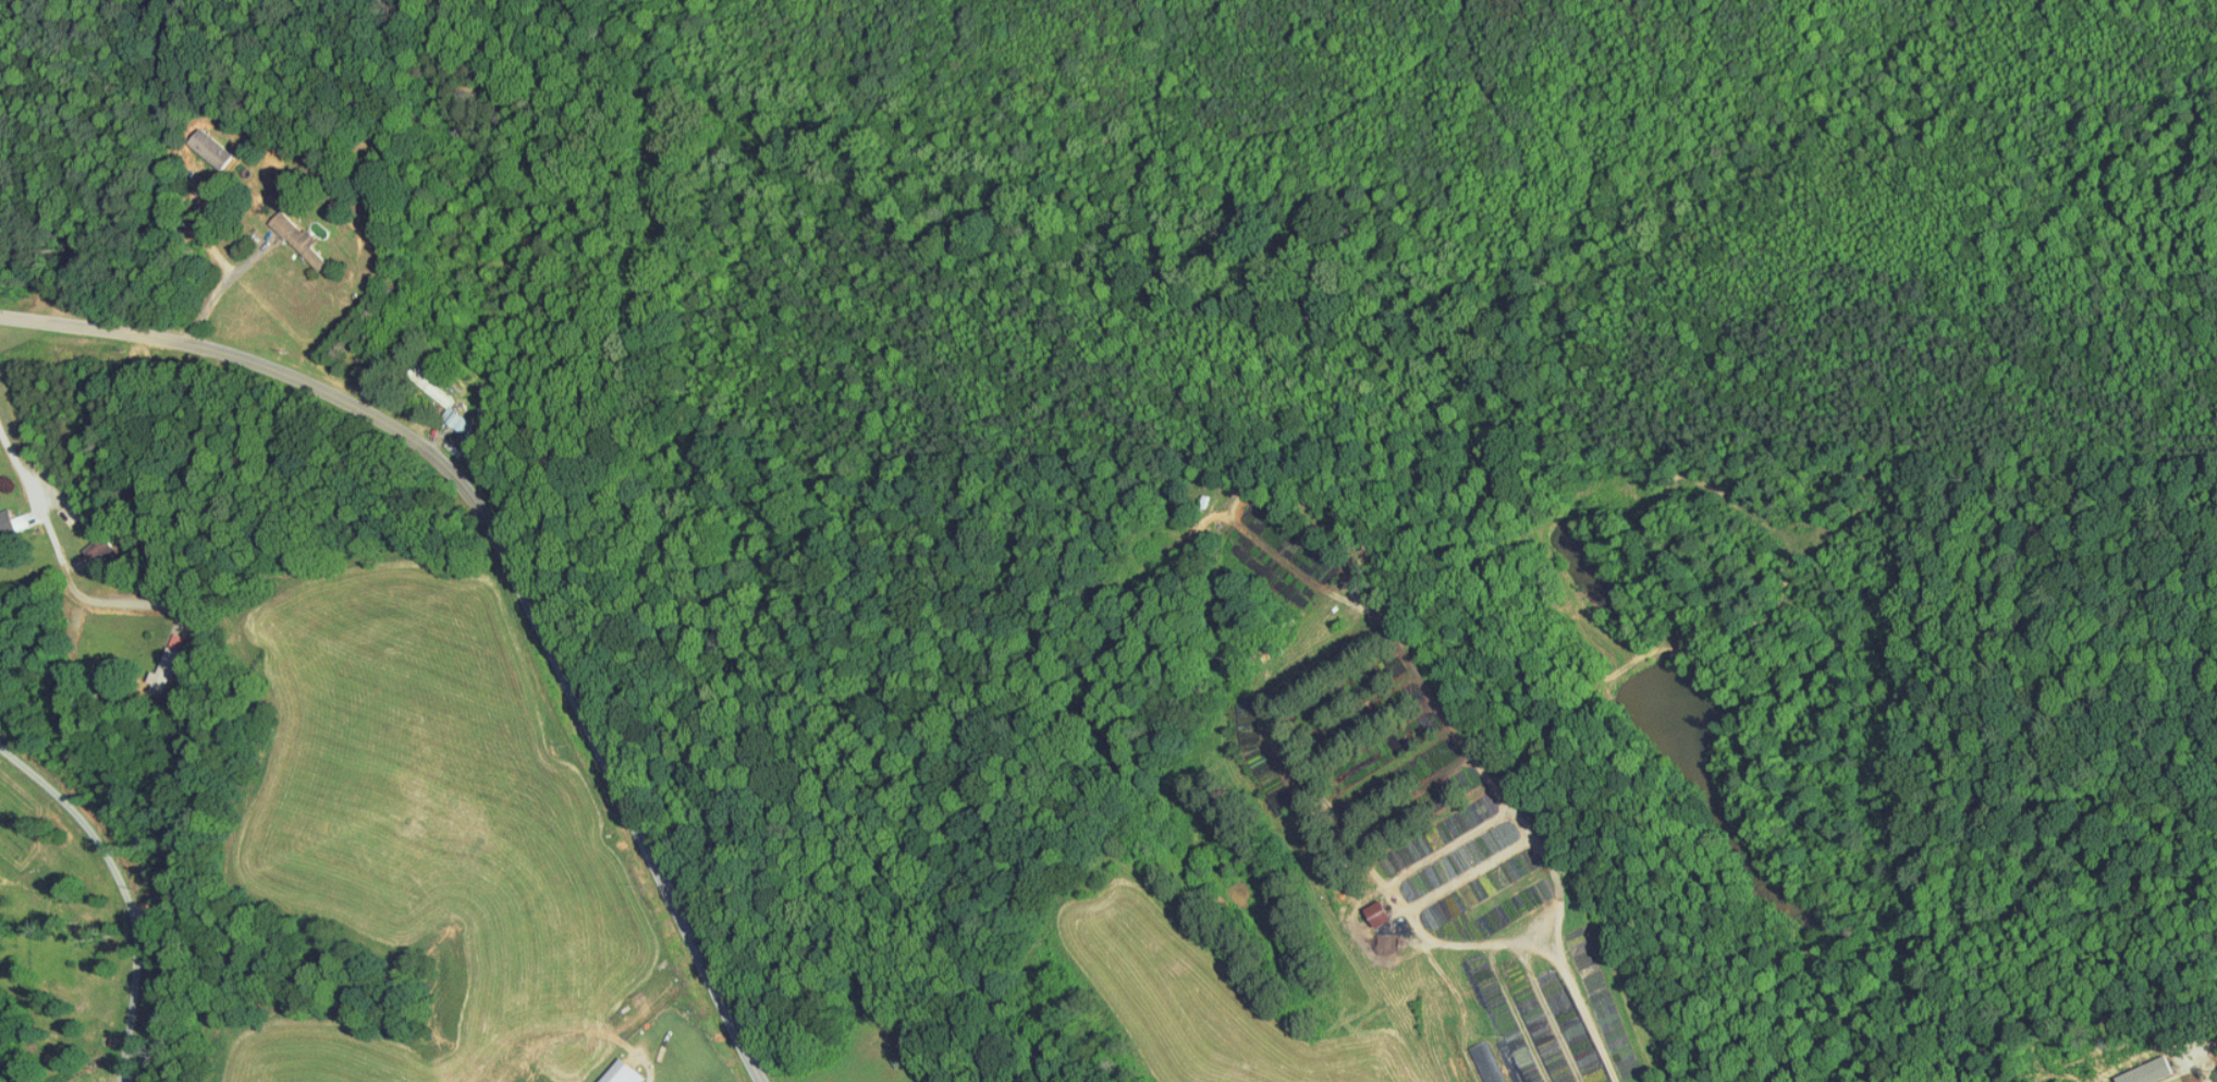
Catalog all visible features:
building: (200, 142)
building: (289, 232)
building: (427, 385)
building: (2, 517)
road: (36, 517)
road: (507, 546)
road: (134, 597)
road: (118, 893)
building: (1371, 906)
road: (1561, 960)
building: (1478, 1059)
building: (2139, 1067)
road: (2198, 1067)
building: (614, 1069)

